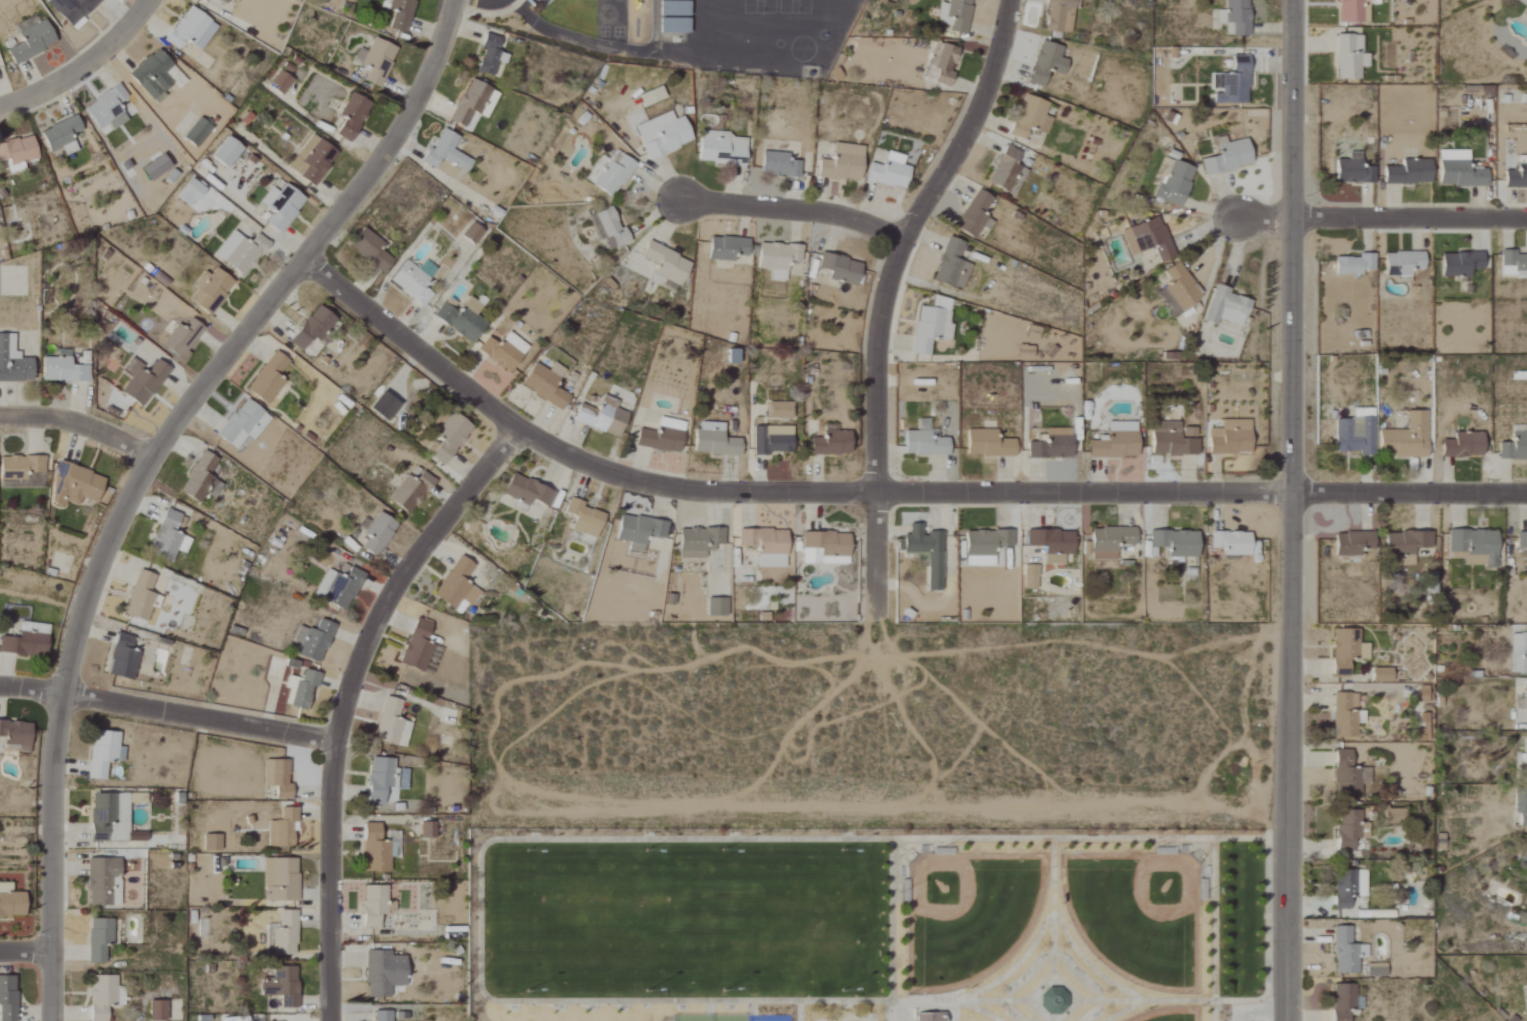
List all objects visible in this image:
building: (207, 0)
building: (1523, 2)
building: (73, 9)
building: (681, 9)
building: (1352, 11)
building: (400, 13)
building: (956, 15)
building: (1059, 16)
building: (1236, 17)
building: (675, 27)
building: (192, 30)
building: (32, 43)
building: (491, 55)
building: (1351, 57)
building: (379, 61)
building: (944, 63)
building: (1047, 64)
road: (83, 65)
building: (153, 75)
building: (281, 82)
building: (1233, 83)
building: (474, 102)
building: (108, 109)
building: (352, 116)
building: (1031, 117)
building: (198, 132)
building: (663, 134)
building: (62, 135)
building: (721, 148)
building: (18, 152)
building: (227, 152)
building: (447, 152)
building: (1229, 157)
building: (313, 160)
building: (843, 163)
building: (779, 164)
building: (156, 167)
building: (890, 171)
building: (1354, 171)
building: (1460, 171)
building: (1008, 172)
building: (1410, 173)
building: (1517, 178)
building: (1176, 184)
building: (190, 192)
building: (283, 206)
road: (796, 212)
building: (975, 214)
road: (1410, 215)
road: (1265, 216)
building: (612, 227)
building: (472, 233)
building: (1149, 239)
building: (728, 248)
building: (371, 250)
building: (241, 252)
building: (779, 258)
building: (1514, 262)
building: (1405, 263)
building: (1461, 263)
building: (666, 264)
building: (1355, 264)
building: (952, 265)
building: (841, 269)
building: (412, 283)
building: (1181, 287)
building: (211, 290)
road: (888, 296)
building: (1227, 307)
building: (462, 320)
building: (314, 328)
building: (183, 338)
building: (13, 362)
building: (65, 369)
building: (269, 378)
building: (143, 381)
building: (546, 384)
building: (384, 406)
building: (780, 410)
building: (603, 417)
road: (79, 422)
building: (244, 425)
building: (449, 435)
building: (1354, 435)
building: (663, 436)
building: (1231, 437)
building: (1406, 438)
building: (773, 439)
building: (925, 441)
building: (1172, 441)
building: (1117, 442)
building: (715, 443)
building: (833, 443)
building: (988, 444)
building: (1053, 444)
building: (1464, 445)
building: (1514, 447)
road: (145, 469)
building: (23, 470)
building: (200, 477)
building: (78, 486)
building: (528, 491)
road: (880, 491)
building: (411, 492)
road: (1296, 510)
building: (586, 519)
building: (640, 531)
building: (378, 533)
building: (169, 538)
building: (1521, 540)
building: (700, 541)
building: (1111, 541)
building: (1177, 543)
building: (1233, 543)
building: (1354, 543)
building: (1053, 544)
building: (767, 546)
building: (986, 546)
building: (1407, 546)
building: (1474, 547)
building: (826, 548)
building: (927, 553)
building: (1031, 577)
building: (458, 585)
building: (339, 588)
building: (141, 597)
building: (717, 607)
building: (313, 641)
building: (25, 645)
building: (418, 647)
building: (1348, 650)
building: (1519, 653)
building: (124, 658)
building: (1383, 675)
building: (302, 690)
road: (346, 699)
building: (1523, 700)
road: (167, 712)
building: (1345, 715)
building: (393, 724)
building: (16, 733)
building: (104, 753)
building: (1524, 762)
building: (1349, 776)
building: (278, 777)
building: (381, 780)
building: (1521, 804)
building: (1395, 816)
building: (110, 818)
building: (283, 829)
building: (428, 830)
building: (1349, 830)
road: (1193, 838)
building: (375, 850)
building: (1524, 858)
building: (281, 880)
building: (1350, 887)
building: (11, 902)
road: (1052, 902)
building: (374, 905)
park: (968, 915)
road: (1047, 915)
park: (1137, 916)
road: (1214, 920)
park: (868, 925)
building: (284, 935)
building: (100, 939)
road: (24, 951)
building: (1347, 952)
road: (1063, 961)
building: (1377, 970)
building: (384, 973)
building: (283, 986)
road: (891, 988)
building: (102, 996)
building: (8, 998)
road: (955, 1000)
road: (1149, 1001)
building: (1344, 1001)
road: (978, 1010)
road: (1013, 1010)
building: (158, 1011)
road: (799, 1011)
road: (890, 1011)
road: (955, 1011)
road: (1125, 1011)
road: (1240, 1011)
parking lot: (1239, 1012)
park: (1170, 1015)
road: (1264, 1015)
building: (383, 1016)
building: (930, 1017)
park: (691, 1018)
park: (727, 1018)
park: (768, 1018)
road: (853, 1019)
road: (1035, 1019)

